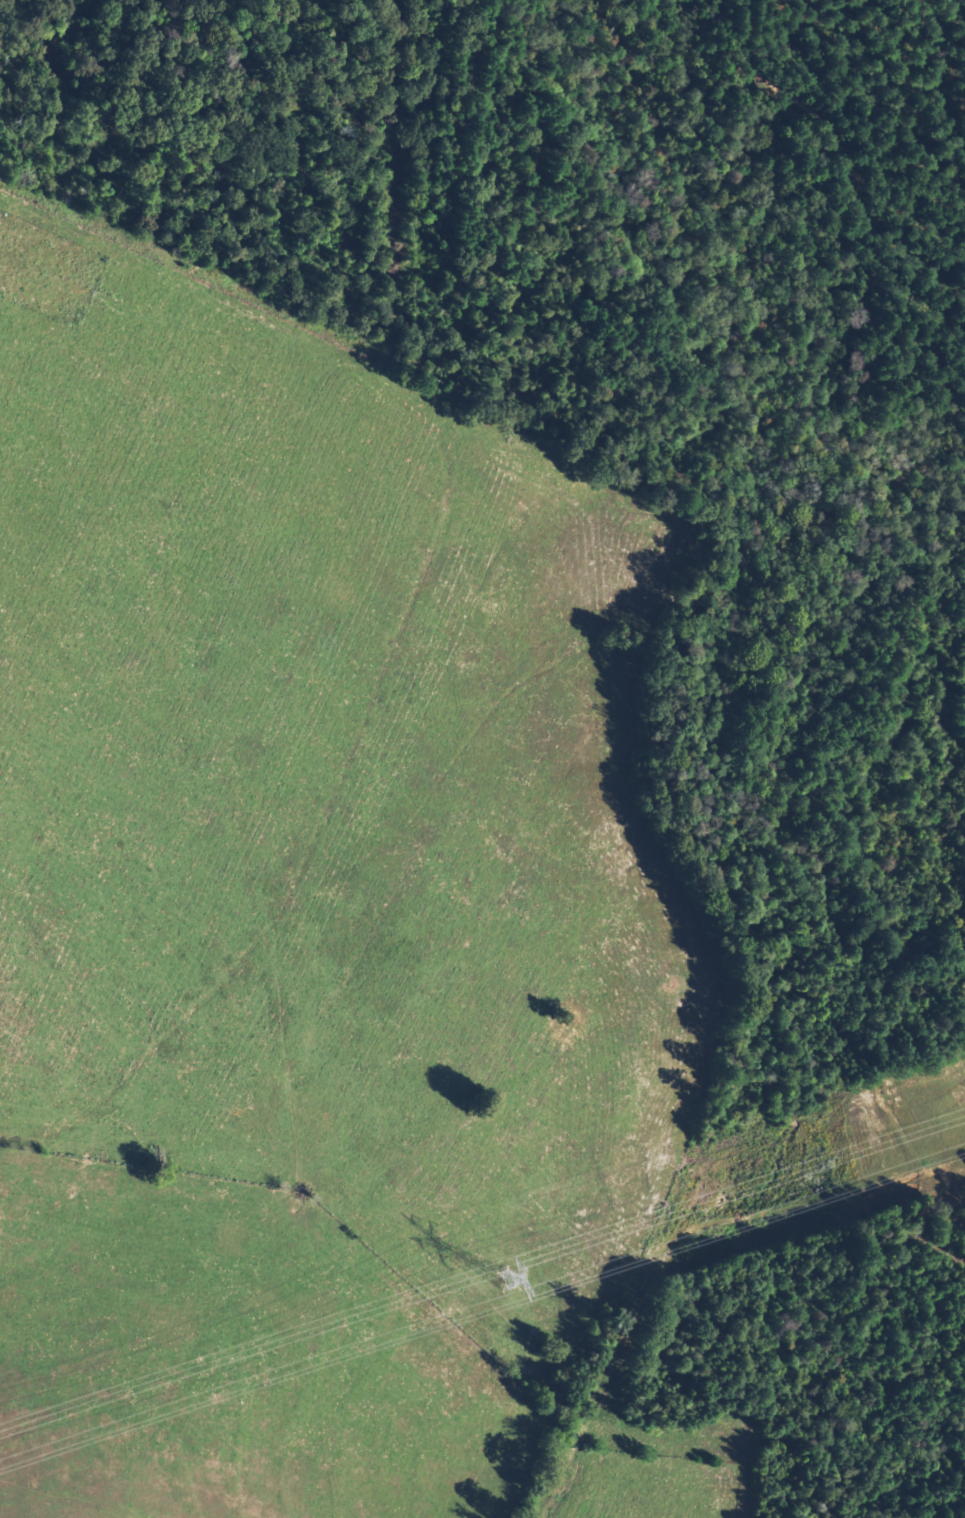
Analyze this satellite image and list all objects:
power tower: (504, 1279)

